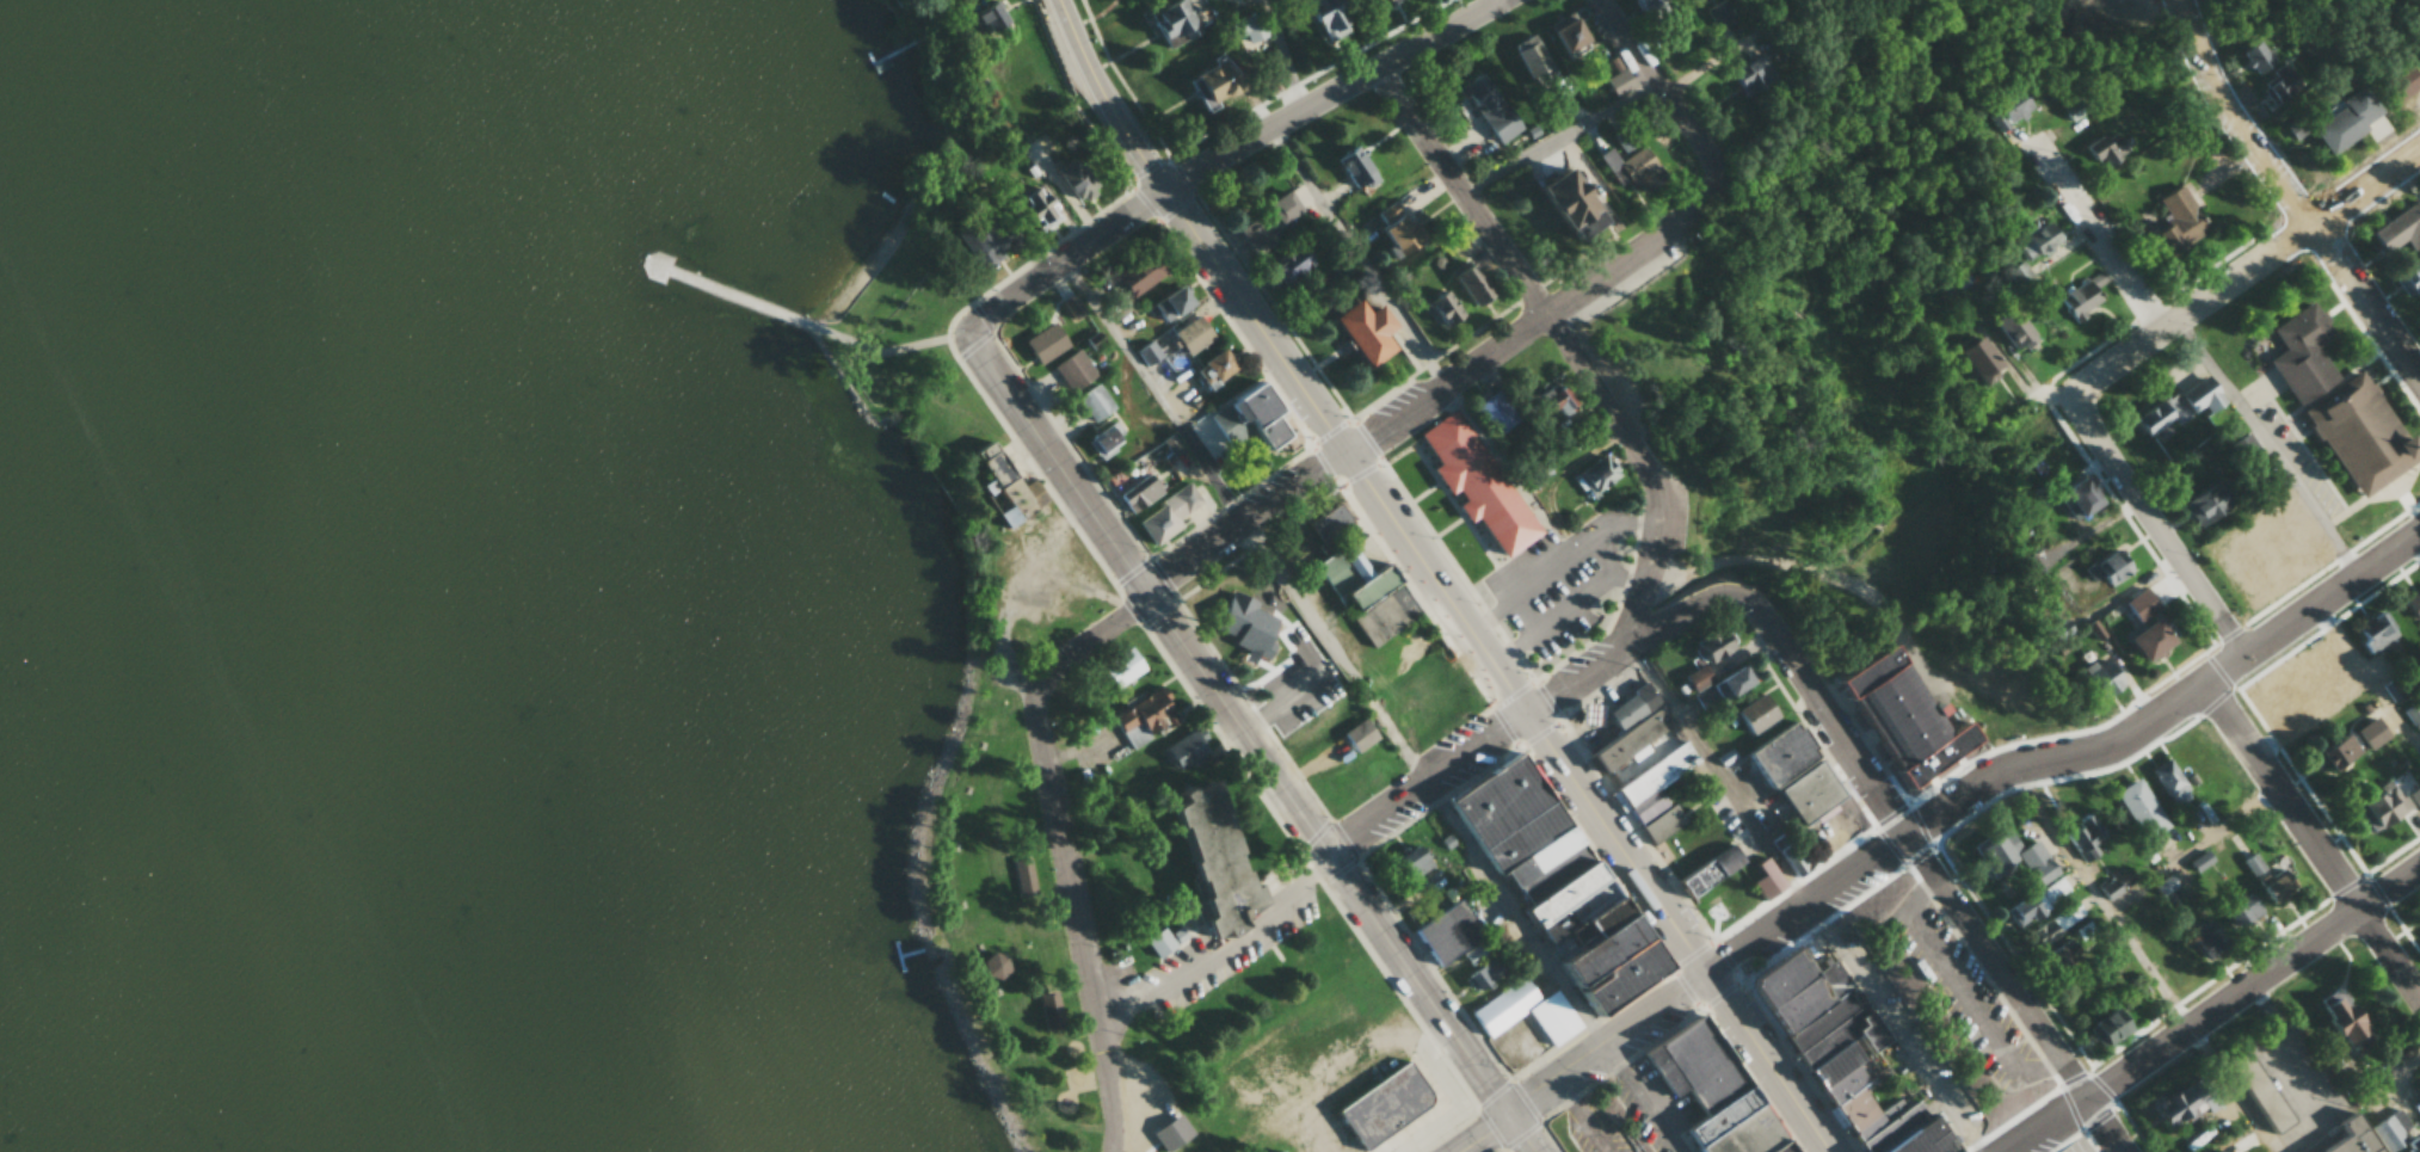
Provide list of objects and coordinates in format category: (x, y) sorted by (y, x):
building: (1637, 5)
building: (1719, 13)
building: (1169, 23)
road: (1072, 26)
building: (1248, 27)
building: (1563, 35)
building: (2419, 51)
building: (1527, 56)
building: (1753, 75)
building: (2400, 84)
building: (2279, 85)
building: (1208, 90)
road: (1662, 97)
building: (1488, 107)
building: (2345, 121)
road: (1129, 122)
building: (1620, 137)
road: (1554, 140)
building: (2104, 150)
road: (1224, 162)
building: (1350, 167)
building: (1633, 171)
building: (1076, 180)
road: (2293, 189)
road: (2370, 191)
building: (1556, 204)
building: (1033, 209)
building: (1263, 222)
building: (2175, 223)
building: (1391, 229)
building: (2399, 230)
building: (2031, 240)
road: (2111, 251)
road: (1361, 259)
building: (1283, 265)
building: (2014, 275)
building: (1960, 277)
building: (2409, 278)
building: (1135, 279)
building: (1464, 284)
pier: (729, 295)
building: (2075, 300)
building: (1165, 303)
building: (1071, 307)
building: (1436, 307)
building: (2007, 327)
building: (1357, 332)
building: (1189, 335)
building: (1041, 344)
road: (886, 351)
building: (1147, 351)
road: (1568, 353)
building: (2299, 353)
building: (1976, 358)
building: (1072, 370)
road: (1443, 388)
park: (1784, 393)
road: (2074, 398)
building: (1548, 400)
building: (2193, 400)
building: (1491, 413)
building: (1246, 417)
building: (2356, 435)
building: (1102, 438)
building: (2243, 449)
building: (1593, 476)
building: (1472, 482)
building: (1000, 486)
building: (1138, 495)
building: (2074, 498)
building: (2203, 504)
building: (1164, 515)
road: (1242, 522)
building: (1326, 522)
building: (2027, 568)
building: (2105, 569)
building: (2244, 571)
building: (1351, 580)
building: (2142, 603)
building: (1225, 604)
building: (2413, 606)
building: (2111, 608)
building: (2372, 632)
building: (2141, 641)
building: (1120, 669)
building: (1415, 671)
building: (1734, 672)
road: (2371, 672)
road: (1505, 674)
building: (2098, 678)
building: (1285, 689)
road: (1541, 698)
building: (1630, 707)
building: (2413, 713)
building: (1583, 714)
road: (1243, 715)
building: (1908, 719)
building: (1141, 722)
building: (1736, 722)
building: (1353, 738)
building: (2333, 749)
road: (2069, 751)
building: (1775, 754)
building: (1335, 781)
building: (2169, 783)
building: (1812, 788)
building: (2415, 796)
building: (1662, 802)
building: (2377, 807)
building: (2139, 809)
road: (1065, 834)
road: (2311, 843)
building: (2088, 845)
building: (2013, 855)
building: (1786, 858)
building: (2255, 863)
building: (1410, 864)
building: (1208, 865)
building: (1468, 873)
building: (1760, 881)
building: (2274, 886)
road: (1950, 898)
building: (1541, 901)
road: (1802, 901)
building: (2037, 902)
building: (2241, 910)
building: (2419, 923)
park: (1002, 924)
building: (2053, 924)
building: (2083, 931)
building: (2209, 940)
road: (2137, 947)
building: (2053, 954)
building: (1474, 955)
building: (989, 968)
building: (2170, 972)
building: (1484, 974)
parking lot: (1963, 991)
building: (2338, 1016)
road: (2222, 1018)
building: (2104, 1027)
building: (1841, 1059)
road: (1584, 1060)
building: (1706, 1090)
road: (1646, 1097)
building: (2178, 1103)
building: (1378, 1104)
parking lot: (1638, 1116)
parking lot: (1594, 1129)
road: (1528, 1131)
building: (2399, 1131)
building: (1170, 1133)
building: (2346, 1136)
parking lot: (2077, 1146)

